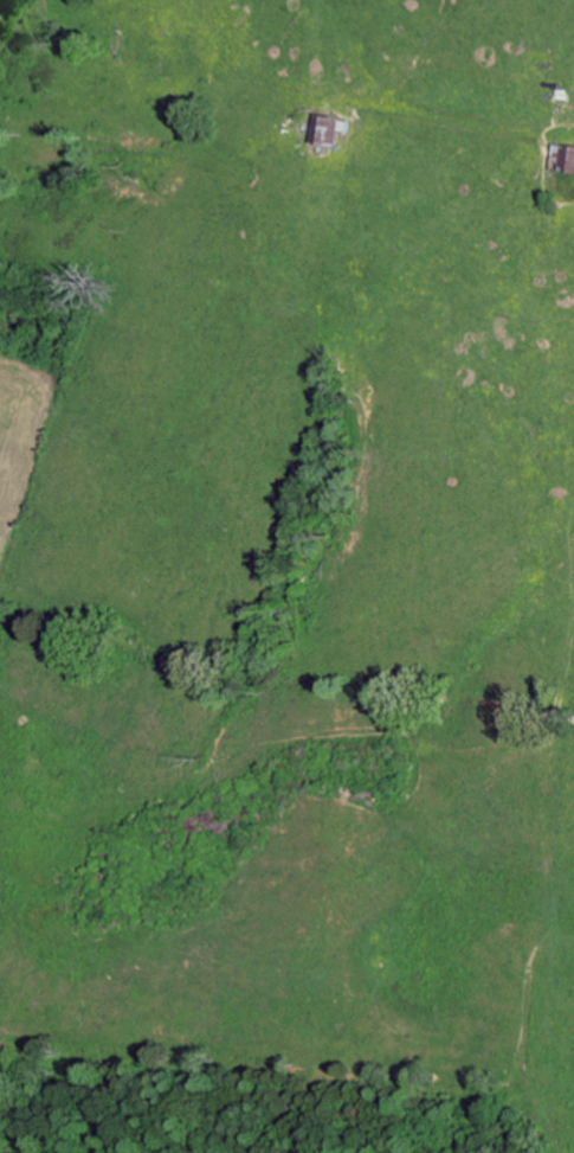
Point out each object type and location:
building: (328, 128)
building: (565, 156)

